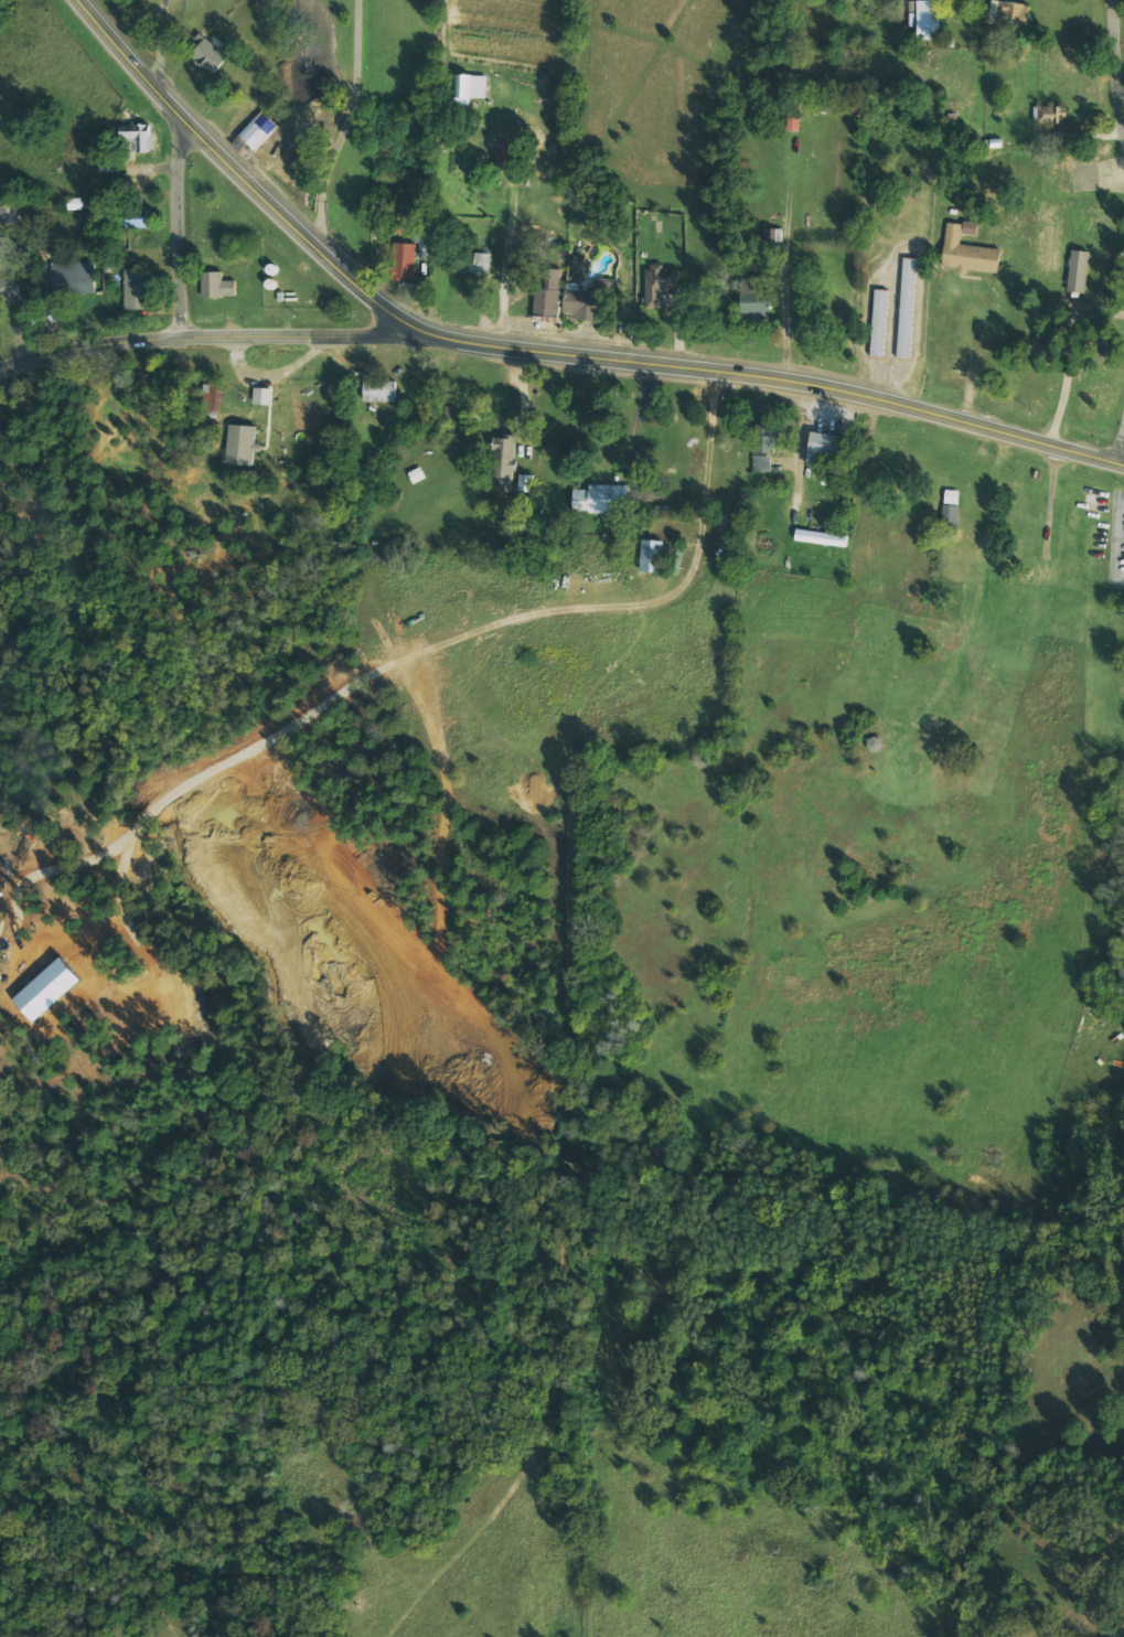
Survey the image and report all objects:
building: (1008, 15)
building: (928, 20)
road: (1122, 30)
building: (205, 52)
building: (469, 87)
building: (1049, 114)
road: (347, 128)
building: (137, 138)
road: (179, 167)
building: (75, 203)
building: (136, 213)
building: (807, 215)
building: (966, 250)
building: (404, 260)
building: (482, 261)
building: (1078, 270)
building: (73, 277)
building: (9, 287)
building: (136, 288)
building: (666, 288)
building: (220, 291)
building: (547, 292)
building: (147, 296)
building: (587, 302)
building: (764, 304)
building: (907, 308)
building: (879, 322)
road: (684, 333)
road: (220, 335)
road: (795, 338)
road: (538, 352)
road: (279, 383)
building: (379, 390)
building: (211, 396)
building: (390, 398)
building: (224, 405)
road: (528, 421)
building: (822, 446)
building: (763, 448)
road: (809, 450)
building: (251, 452)
building: (841, 457)
building: (503, 461)
building: (425, 480)
building: (526, 482)
building: (535, 489)
building: (951, 496)
building: (613, 507)
building: (951, 517)
building: (821, 537)
building: (651, 555)
building: (664, 564)

